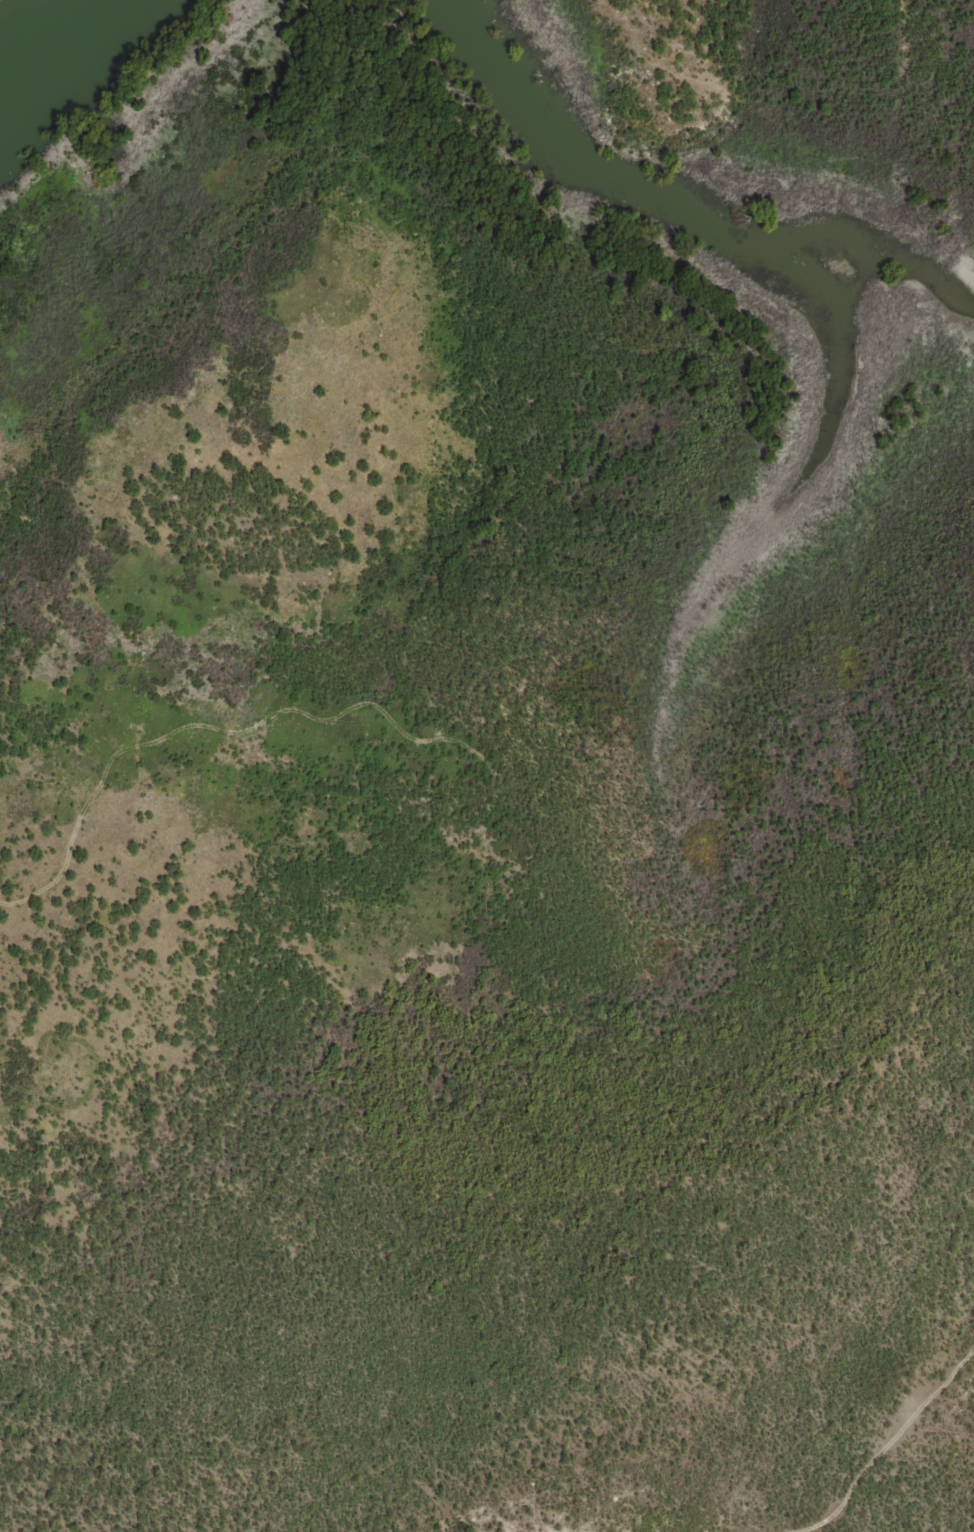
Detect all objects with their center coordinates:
river: (48, 51)

